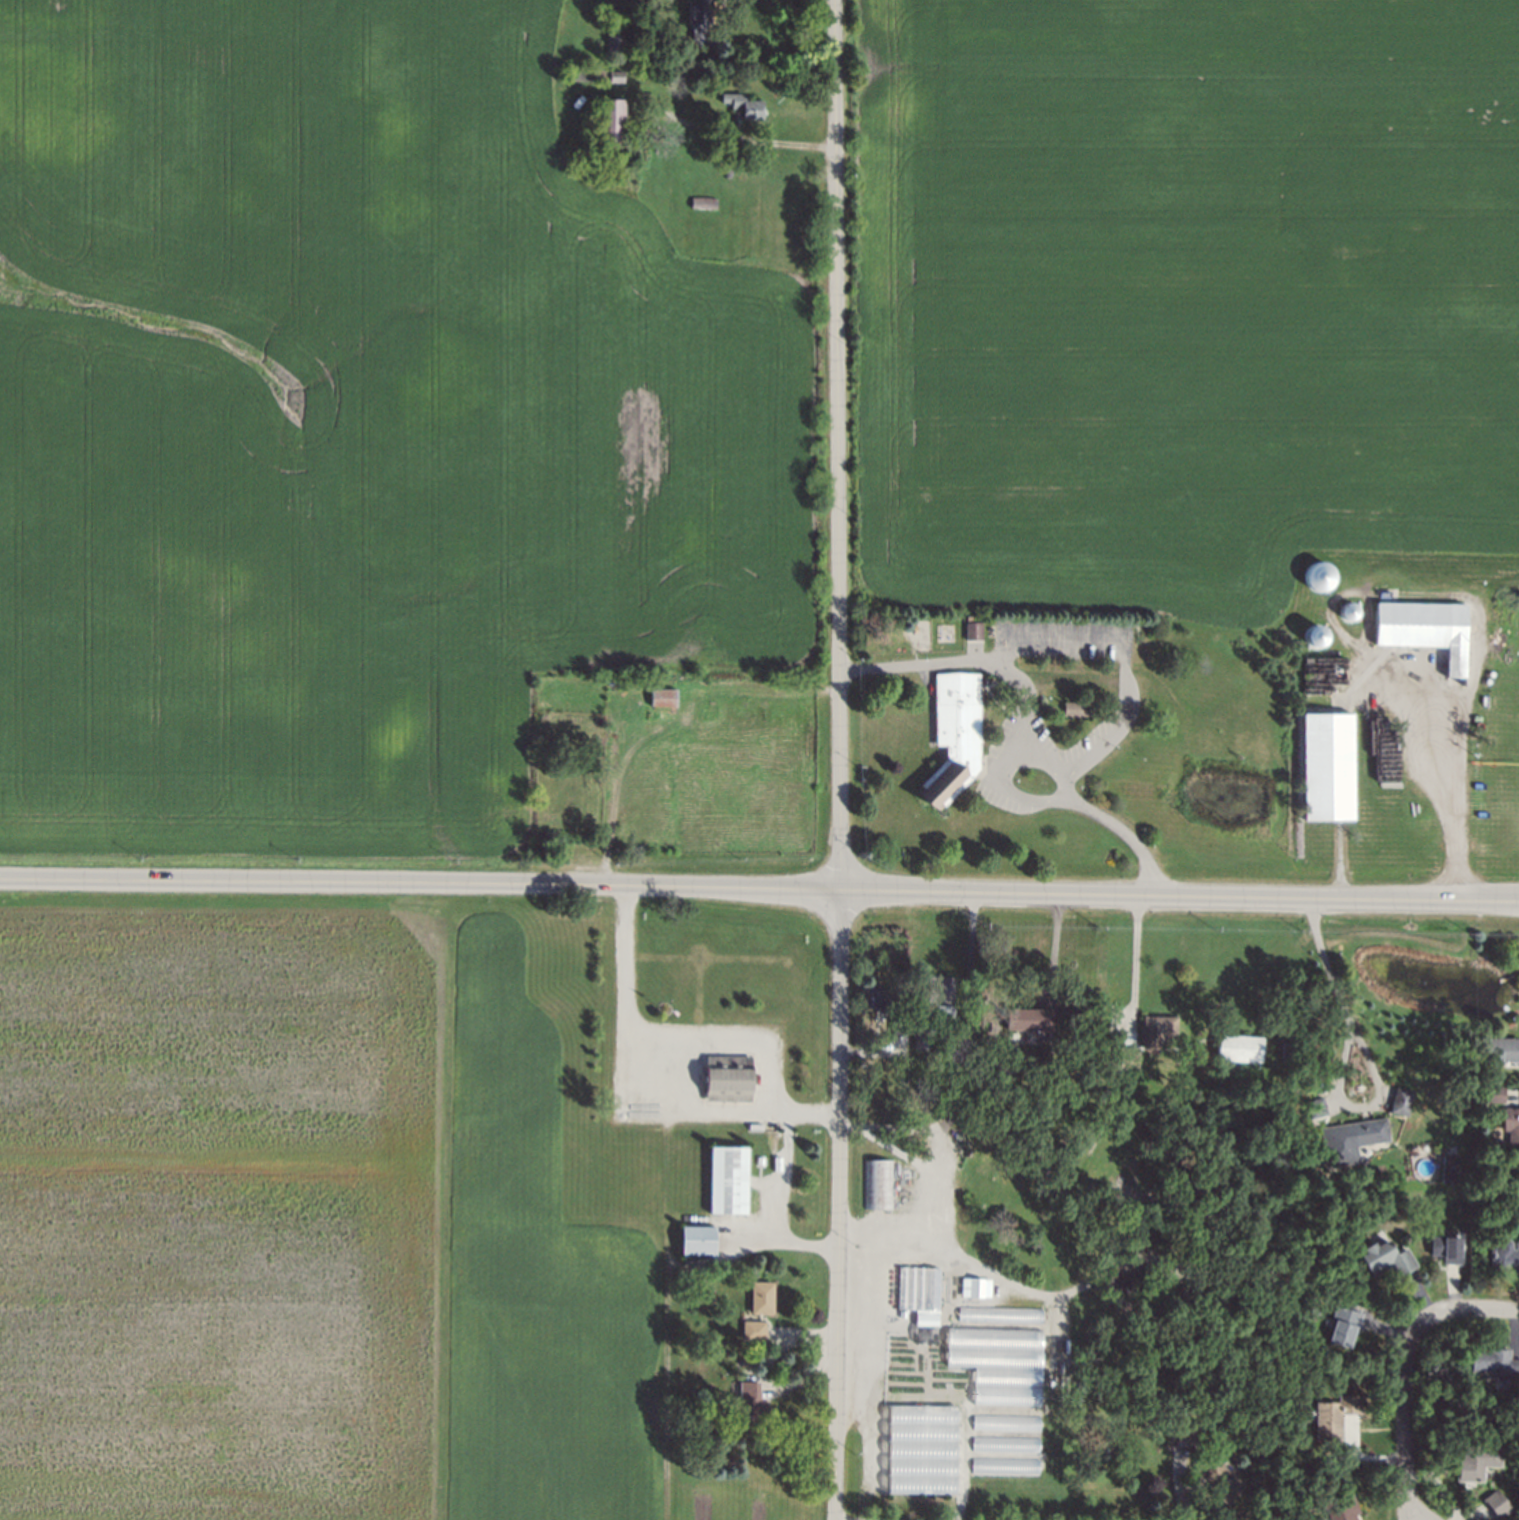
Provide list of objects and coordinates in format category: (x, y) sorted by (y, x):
building: (694, 19)
building: (612, 45)
building: (588, 72)
building: (739, 104)
building: (607, 120)
building: (637, 130)
road: (748, 139)
building: (698, 202)
building: (1316, 583)
building: (1345, 617)
building: (968, 627)
building: (1424, 633)
road: (1075, 641)
building: (1312, 646)
building: (606, 682)
road: (1113, 683)
building: (659, 696)
building: (1074, 708)
building: (953, 736)
road: (838, 760)
building: (1325, 768)
road: (1442, 783)
road: (311, 882)
road: (1071, 891)
road: (969, 943)
road: (1053, 943)
road: (1135, 957)
building: (939, 990)
road: (1334, 991)
building: (1088, 1009)
building: (882, 1013)
building: (1033, 1022)
building: (1158, 1029)
road: (730, 1036)
building: (924, 1040)
building: (1502, 1049)
building: (1239, 1050)
building: (1289, 1051)
building: (1130, 1059)
building: (726, 1079)
building: (1402, 1093)
building: (1494, 1095)
road: (623, 1105)
building: (1314, 1108)
building: (1510, 1130)
road: (937, 1140)
building: (1353, 1140)
road: (896, 1151)
building: (1453, 1165)
building: (726, 1181)
building: (877, 1186)
building: (905, 1197)
road: (779, 1205)
building: (1206, 1209)
building: (1205, 1225)
building: (695, 1242)
building: (1447, 1250)
building: (1387, 1261)
building: (1505, 1262)
road: (993, 1273)
building: (691, 1277)
building: (916, 1287)
building: (978, 1290)
building: (762, 1299)
road: (1472, 1308)
building: (903, 1315)
building: (1344, 1328)
building: (753, 1332)
building: (997, 1364)
building: (1495, 1365)
building: (702, 1370)
road: (903, 1371)
building: (749, 1407)
road: (1405, 1416)
building: (1335, 1418)
building: (1005, 1423)
building: (1188, 1433)
building: (1004, 1446)
building: (919, 1450)
building: (1477, 1464)
building: (1004, 1467)
building: (1219, 1479)
building: (1499, 1505)
building: (1342, 1509)

